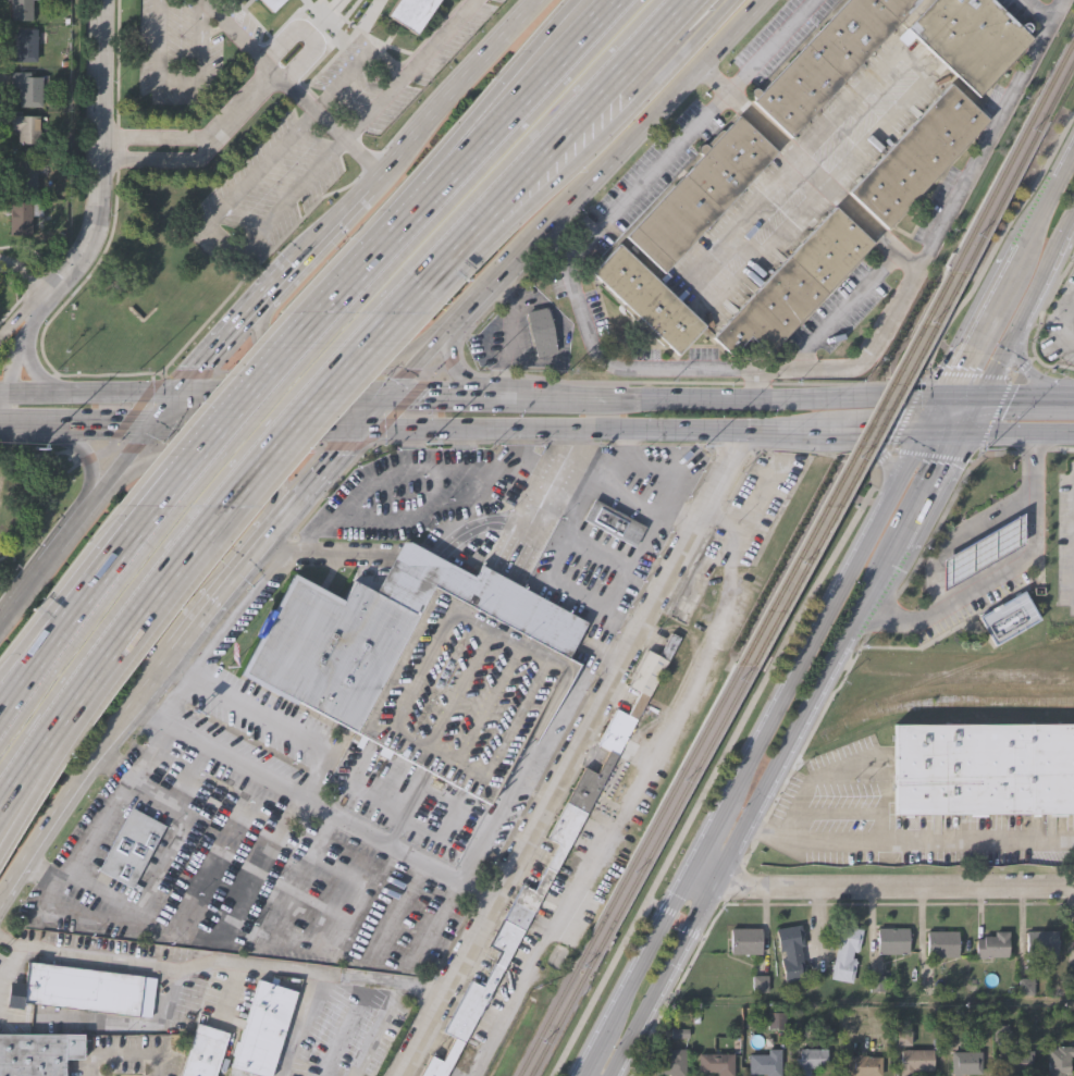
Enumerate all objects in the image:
road: (210, 1)
building: (274, 4)
building: (22, 9)
building: (415, 15)
road: (703, 25)
road: (308, 35)
building: (970, 37)
road: (437, 39)
building: (25, 45)
road: (773, 47)
building: (827, 59)
road: (385, 62)
road: (177, 77)
road: (713, 79)
road: (294, 85)
building: (28, 88)
road: (447, 91)
road: (509, 95)
road: (524, 95)
road: (240, 106)
road: (577, 112)
building: (27, 125)
road: (526, 134)
road: (156, 136)
road: (576, 138)
road: (624, 144)
road: (498, 148)
building: (919, 153)
railway: (1010, 153)
road: (159, 159)
road: (104, 165)
railway: (1017, 166)
building: (23, 174)
road: (823, 181)
building: (701, 190)
building: (24, 214)
road: (742, 223)
road: (324, 225)
road: (1070, 230)
road: (391, 237)
road: (220, 239)
road: (999, 240)
road: (559, 243)
road: (445, 253)
road: (1010, 273)
road: (25, 279)
road: (275, 280)
building: (795, 284)
building: (649, 298)
road: (470, 306)
road: (842, 308)
road: (17, 314)
road: (1023, 319)
road: (450, 326)
building: (544, 329)
road: (1064, 331)
road: (221, 343)
road: (15, 348)
road: (332, 356)
road: (29, 358)
road: (1034, 359)
road: (418, 361)
road: (450, 362)
road: (771, 370)
road: (970, 373)
road: (1033, 378)
road: (756, 384)
road: (287, 389)
road: (283, 393)
traffic signals: (390, 393)
road: (433, 393)
traffic signals: (177, 394)
road: (504, 394)
road: (571, 395)
road: (121, 396)
road: (3, 397)
road: (36, 398)
road: (779, 398)
traffic signals: (948, 400)
road: (964, 400)
traffic signals: (982, 400)
road: (1022, 400)
road: (1069, 400)
road: (306, 405)
road: (237, 407)
road: (164, 409)
road: (373, 410)
road: (909, 410)
road: (7, 411)
road: (938, 416)
road: (973, 416)
road: (250, 419)
road: (3, 424)
traffic signals: (152, 424)
road: (33, 425)
road: (104, 425)
road: (255, 426)
traffic signals: (358, 429)
road: (604, 429)
road: (890, 431)
traffic signals: (929, 431)
road: (947, 431)
traffic signals: (965, 431)
road: (972, 431)
road: (1005, 431)
road: (1053, 432)
road: (133, 448)
road: (879, 459)
road: (88, 460)
road: (908, 463)
road: (231, 467)
railway: (844, 468)
railway: (856, 468)
road: (101, 490)
road: (308, 490)
road: (624, 492)
road: (929, 495)
building: (466, 496)
road: (427, 497)
road: (939, 497)
road: (486, 507)
building: (615, 522)
road: (71, 528)
road: (951, 529)
building: (982, 549)
gas station: (982, 549)
road: (326, 553)
road: (417, 556)
road: (1003, 569)
road: (26, 584)
road: (83, 599)
road: (220, 602)
building: (1007, 619)
road: (126, 627)
road: (88, 638)
road: (72, 643)
building: (428, 664)
railway: (952, 671)
road: (166, 672)
road: (16, 682)
road: (16, 688)
railway: (945, 705)
road: (272, 720)
road: (736, 720)
road: (575, 753)
road: (27, 759)
road: (855, 763)
building: (983, 770)
road: (27, 775)
road: (734, 788)
railway: (728, 792)
road: (629, 793)
road: (71, 796)
road: (316, 806)
road: (751, 816)
road: (320, 833)
road: (910, 839)
building: (133, 846)
building: (554, 863)
railway: (629, 869)
railway: (641, 869)
road: (876, 887)
road: (359, 894)
building: (746, 939)
building: (893, 939)
building: (943, 942)
building: (1041, 943)
building: (993, 944)
building: (792, 950)
building: (847, 950)
road: (222, 958)
road: (10, 963)
building: (78, 988)
road: (863, 998)
road: (109, 1023)
road: (295, 1024)
building: (261, 1027)
building: (205, 1050)
building: (37, 1053)
building: (918, 1059)
building: (1059, 1059)
building: (811, 1061)
building: (966, 1061)
building: (1017, 1061)
building: (671, 1062)
building: (766, 1062)
building: (717, 1063)
building: (864, 1066)

